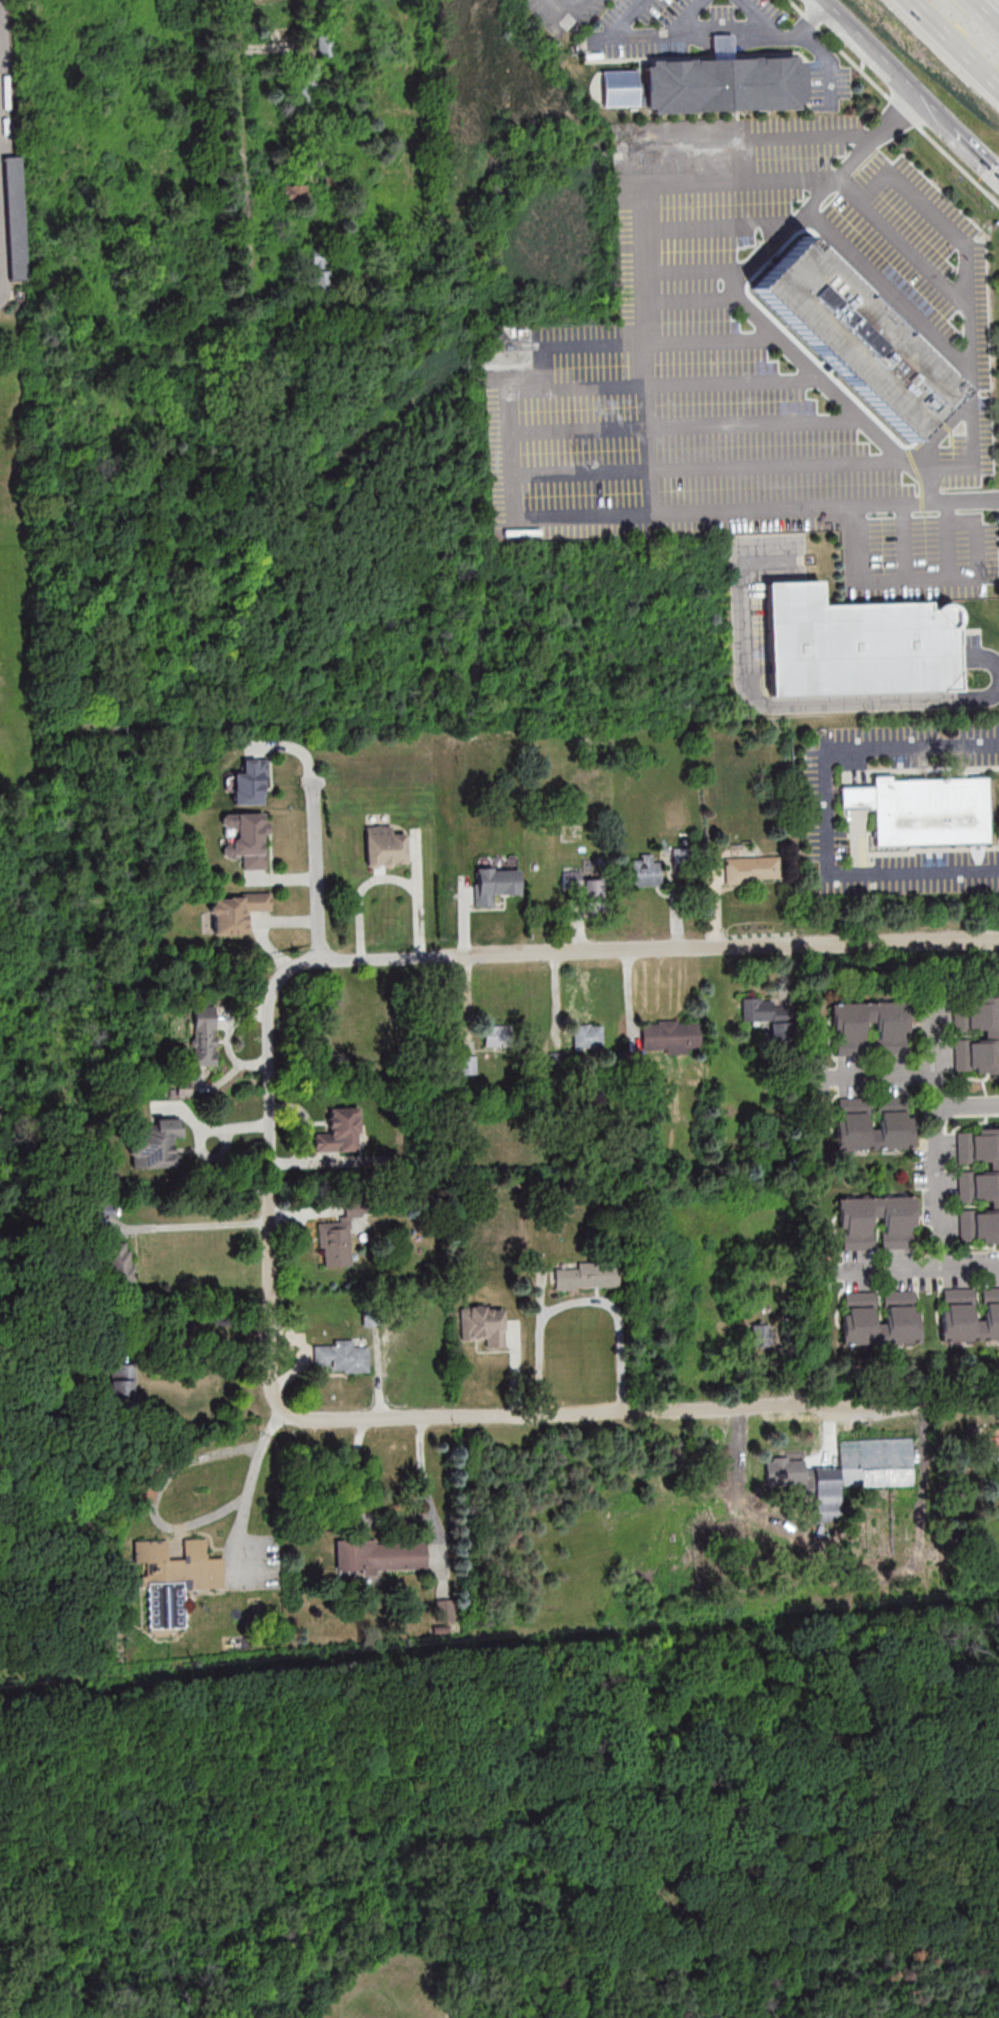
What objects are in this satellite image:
road: (568, 4)
road: (986, 11)
road: (759, 17)
road: (815, 22)
road: (676, 30)
road: (957, 40)
building: (326, 45)
road: (824, 52)
road: (884, 58)
building: (722, 86)
building: (618, 88)
building: (305, 101)
road: (244, 134)
road: (970, 143)
building: (331, 179)
road: (735, 184)
building: (295, 193)
road: (864, 205)
road: (802, 213)
building: (15, 218)
road: (717, 225)
road: (915, 255)
road: (697, 270)
building: (323, 272)
road: (686, 295)
road: (643, 317)
road: (968, 329)
building: (854, 337)
road: (635, 343)
road: (734, 382)
road: (837, 392)
road: (686, 425)
road: (649, 449)
road: (708, 466)
road: (927, 502)
road: (754, 508)
road: (958, 517)
river: (259, 538)
road: (944, 541)
road: (902, 543)
road: (910, 582)
building: (854, 646)
road: (779, 708)
building: (249, 783)
building: (924, 809)
road: (825, 811)
road: (312, 830)
building: (246, 839)
building: (385, 847)
building: (682, 857)
building: (645, 870)
building: (751, 870)
building: (495, 884)
building: (584, 888)
building: (236, 911)
road: (635, 948)
building: (771, 1018)
building: (364, 1029)
building: (494, 1035)
building: (976, 1035)
building: (205, 1036)
building: (587, 1036)
building: (670, 1037)
building: (850, 1037)
building: (558, 1062)
building: (467, 1064)
road: (890, 1075)
road: (966, 1102)
building: (854, 1113)
building: (338, 1132)
road: (934, 1133)
building: (155, 1144)
river: (24, 1151)
building: (979, 1183)
road: (268, 1202)
building: (103, 1208)
road: (188, 1226)
building: (857, 1233)
building: (337, 1239)
building: (119, 1261)
road: (969, 1264)
road: (891, 1268)
building: (587, 1276)
road: (580, 1299)
building: (859, 1307)
building: (969, 1315)
road: (196, 1322)
building: (483, 1324)
building: (763, 1335)
building: (342, 1356)
building: (122, 1387)
road: (648, 1412)
building: (785, 1471)
building: (861, 1472)
building: (144, 1493)
road: (176, 1525)
building: (381, 1556)
building: (175, 1580)

